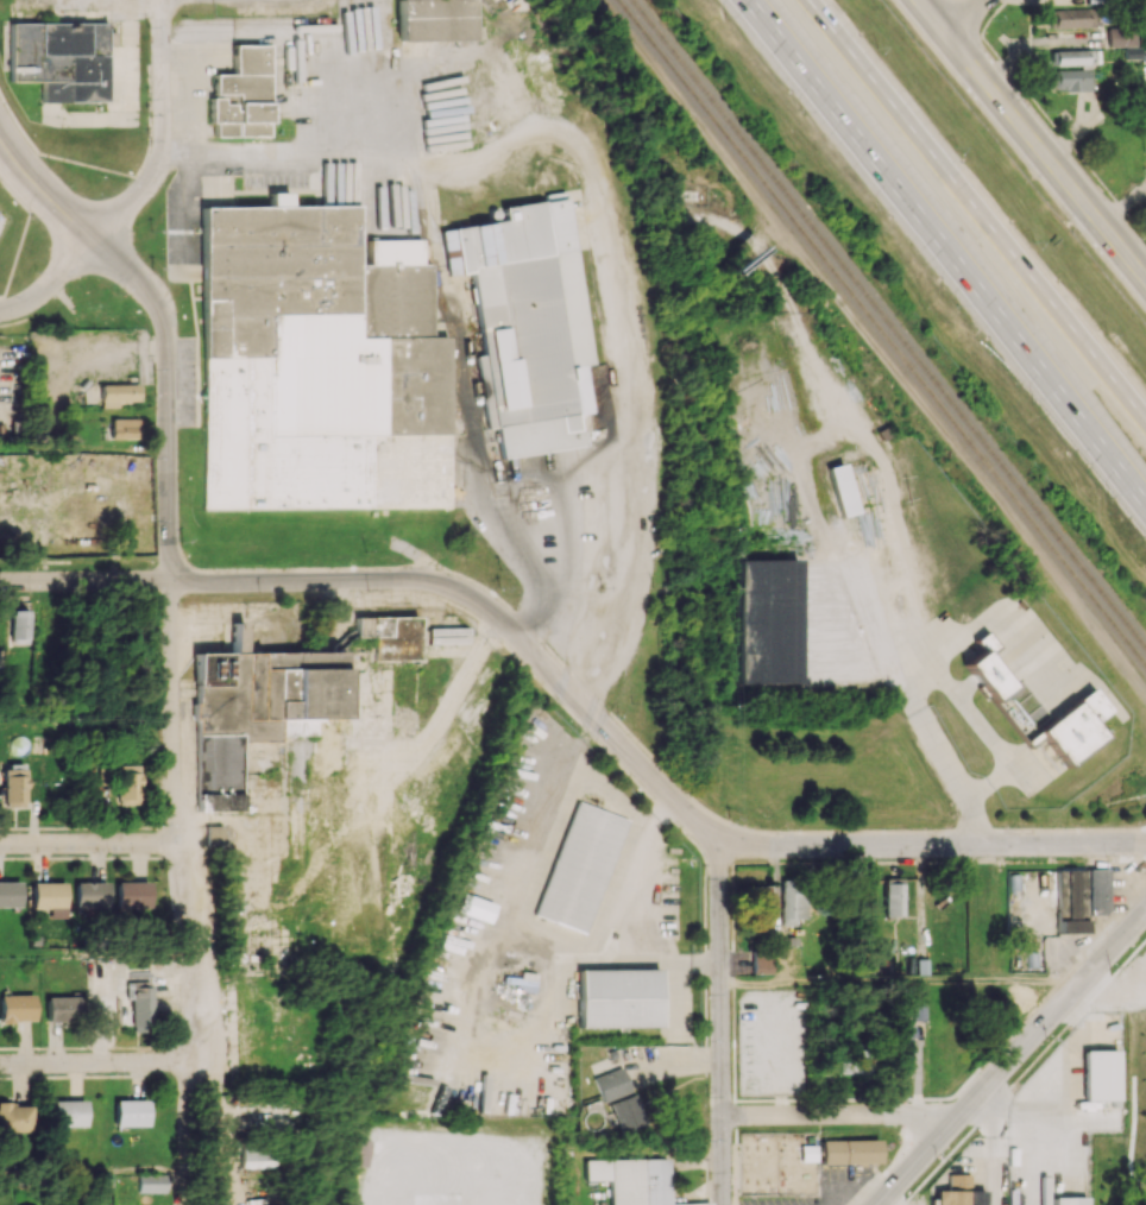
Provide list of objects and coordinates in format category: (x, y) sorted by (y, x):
road: (964, 15)
building: (434, 20)
building: (1116, 36)
building: (1075, 57)
building: (61, 59)
building: (1071, 80)
building: (241, 94)
road: (162, 132)
road: (1033, 137)
road: (43, 190)
road: (977, 209)
road: (1126, 210)
road: (947, 251)
road: (50, 282)
railway: (889, 322)
building: (527, 324)
railway: (883, 332)
road: (875, 346)
building: (320, 365)
building: (118, 393)
road: (166, 395)
building: (124, 428)
road: (83, 448)
road: (581, 471)
building: (842, 490)
road: (563, 521)
road: (568, 572)
road: (84, 580)
road: (310, 580)
building: (772, 620)
building: (20, 625)
building: (390, 636)
building: (1009, 700)
building: (253, 708)
road: (84, 714)
building: (300, 726)
building: (1073, 727)
road: (957, 780)
road: (598, 783)
building: (126, 784)
building: (14, 787)
road: (855, 829)
building: (213, 834)
road: (88, 844)
road: (748, 844)
building: (580, 866)
road: (184, 891)
building: (1096, 891)
building: (10, 894)
building: (131, 894)
building: (90, 895)
building: (49, 897)
building: (893, 897)
building: (1071, 900)
building: (791, 901)
building: (474, 907)
building: (760, 907)
road: (525, 915)
road: (97, 953)
road: (650, 955)
building: (760, 961)
road: (905, 977)
building: (618, 998)
building: (139, 1005)
building: (15, 1008)
building: (62, 1009)
road: (720, 1020)
building: (902, 1042)
road: (1012, 1058)
building: (856, 1061)
road: (96, 1064)
building: (1100, 1074)
building: (609, 1084)
park: (1144, 1102)
road: (1134, 1108)
building: (69, 1112)
building: (131, 1112)
building: (625, 1113)
road: (839, 1113)
park: (1135, 1115)
building: (14, 1118)
road: (1025, 1118)
building: (850, 1150)
building: (363, 1152)
building: (254, 1156)
road: (95, 1175)
building: (631, 1180)
building: (151, 1182)
building: (958, 1192)
building: (1069, 1200)

